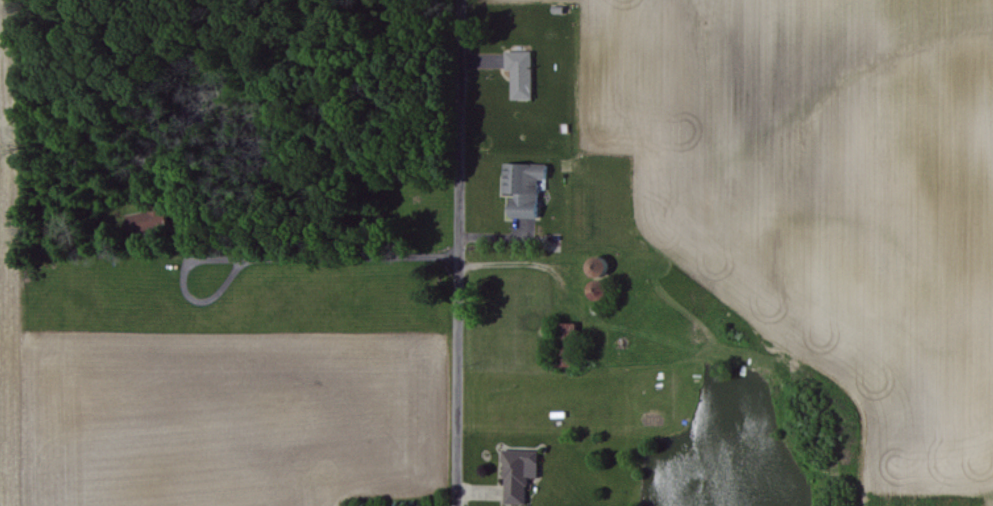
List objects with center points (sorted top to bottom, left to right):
building: (518, 73)
building: (520, 188)
building: (145, 221)
road: (447, 252)
road: (339, 254)
building: (515, 474)

